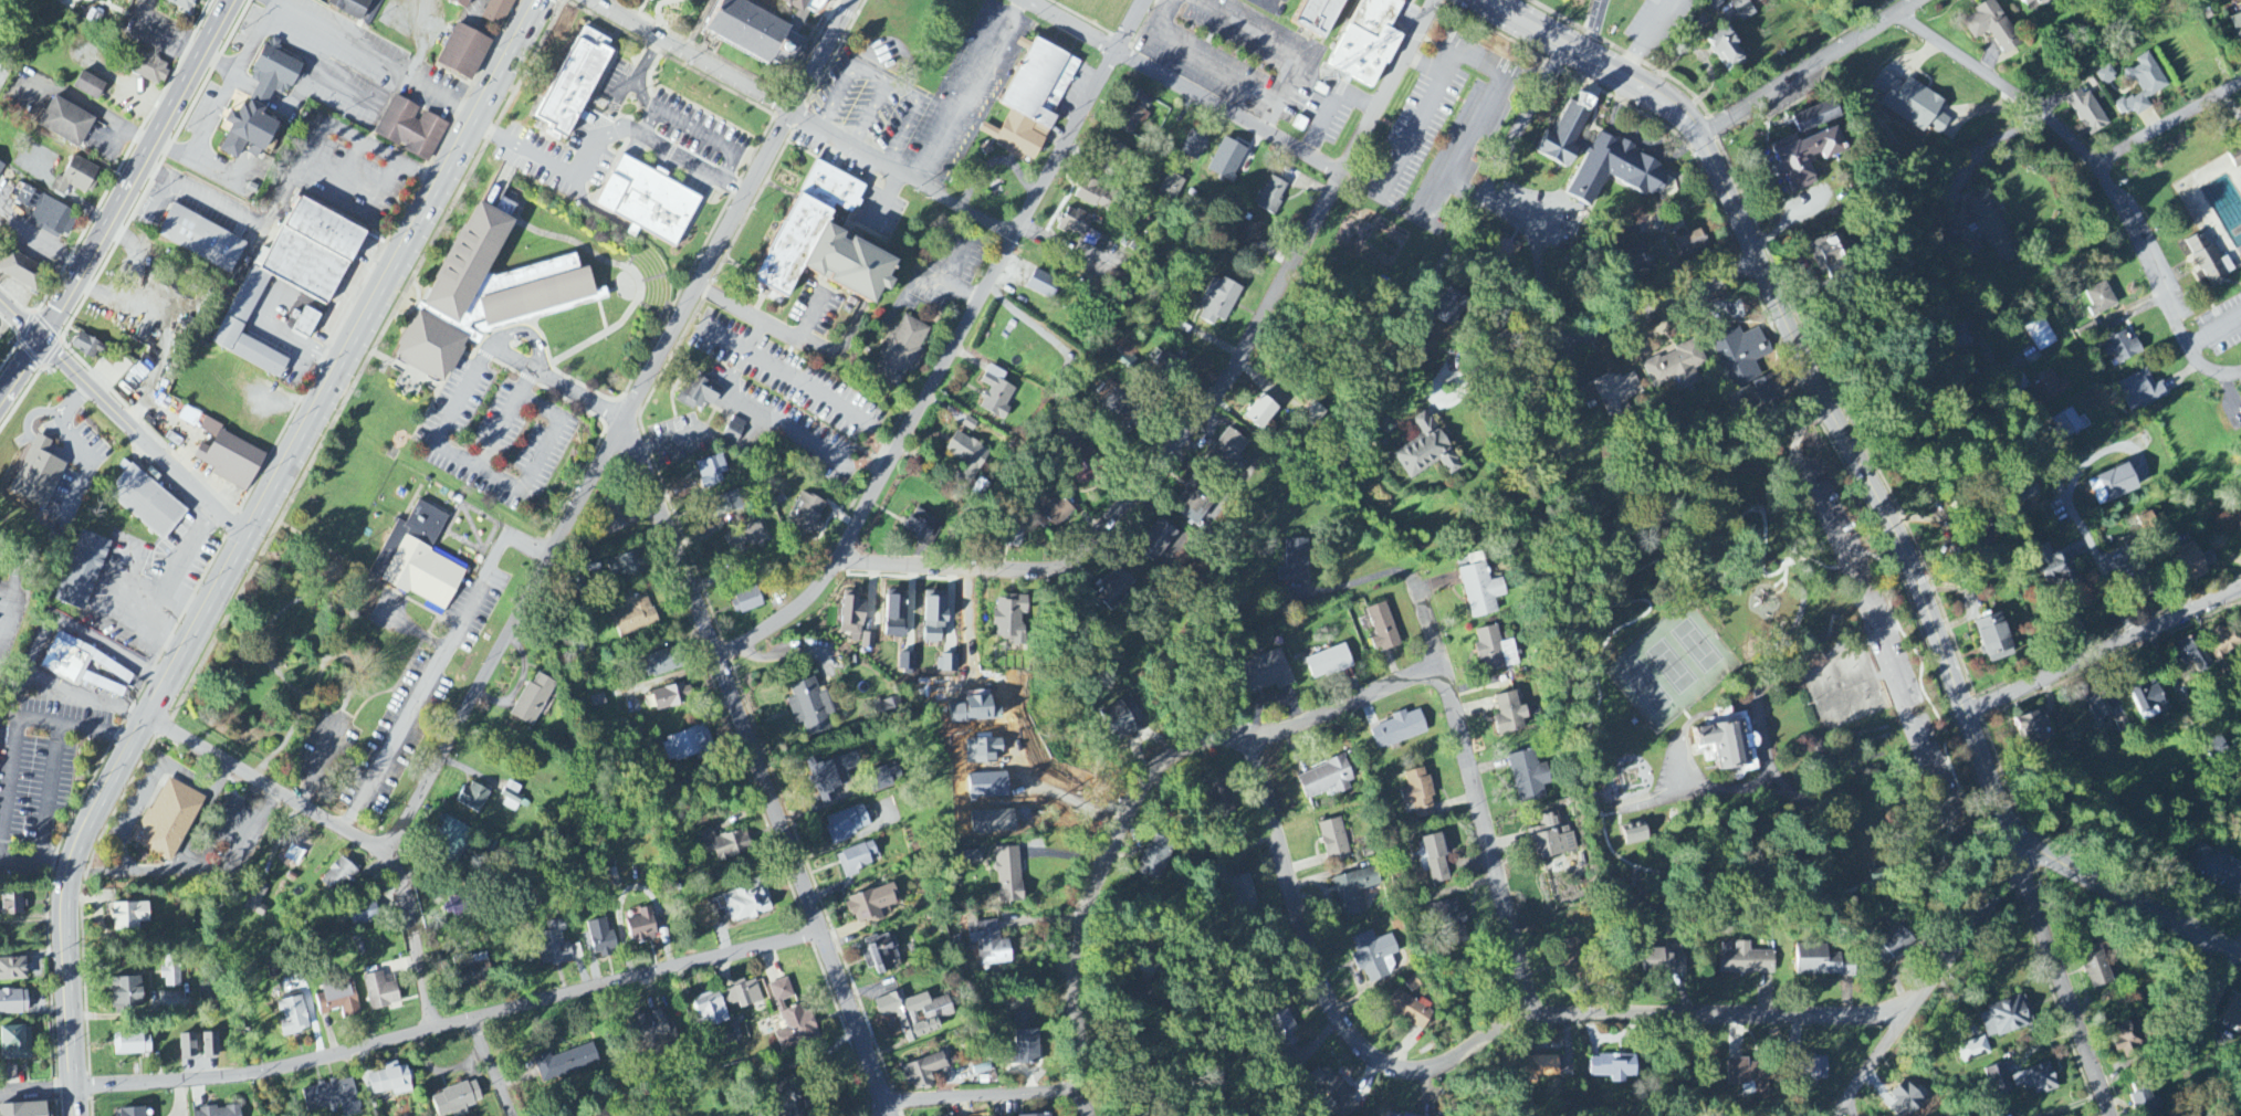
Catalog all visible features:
building: (1758, 1)
building: (656, 2)
road: (273, 3)
building: (460, 3)
building: (2027, 3)
building: (180, 4)
building: (799, 4)
building: (1715, 4)
building: (350, 7)
building: (1742, 10)
road: (286, 11)
building: (498, 12)
building: (1319, 18)
building: (2237, 24)
road: (1134, 25)
road: (1598, 27)
building: (1991, 27)
building: (755, 32)
road: (1645, 36)
building: (1368, 42)
road: (1274, 43)
building: (1726, 50)
building: (463, 52)
road: (690, 56)
road: (1195, 62)
road: (1803, 65)
road: (220, 66)
building: (144, 67)
building: (272, 73)
road: (639, 74)
building: (2105, 76)
building: (577, 81)
road: (625, 81)
road: (2000, 83)
building: (88, 86)
road: (1184, 86)
building: (2143, 86)
road: (976, 94)
building: (1041, 102)
road: (1334, 103)
building: (1912, 104)
road: (91, 108)
building: (1135, 112)
road: (1486, 112)
building: (2088, 113)
building: (1815, 118)
road: (1270, 119)
road: (649, 122)
road: (1525, 122)
road: (2170, 122)
building: (65, 123)
building: (411, 129)
building: (245, 131)
road: (604, 134)
road: (708, 137)
road: (1413, 137)
building: (1194, 146)
building: (1596, 158)
building: (2235, 158)
building: (1803, 159)
building: (1227, 160)
building: (1, 168)
road: (903, 175)
building: (76, 177)
road: (294, 179)
flagpole: (1001, 181)
road: (132, 188)
building: (1171, 188)
building: (1093, 196)
building: (1270, 197)
building: (655, 200)
road: (741, 207)
building: (48, 214)
park: (2196, 221)
building: (1075, 222)
building: (1981, 227)
building: (1249, 233)
building: (827, 236)
building: (189, 242)
road: (41, 243)
building: (1692, 245)
building: (303, 251)
building: (1832, 255)
building: (1643, 257)
building: (2210, 262)
building: (21, 271)
road: (2159, 282)
building: (486, 285)
building: (1043, 285)
building: (1222, 298)
building: (2101, 301)
building: (232, 308)
building: (1449, 309)
road: (1779, 309)
road: (1653, 313)
building: (302, 323)
building: (1184, 326)
road: (786, 331)
building: (2039, 335)
road: (756, 336)
building: (1594, 336)
traffic signals: (44, 339)
road: (726, 340)
building: (1961, 340)
building: (88, 348)
building: (2122, 349)
building: (77, 350)
building: (901, 351)
building: (1741, 356)
building: (1167, 362)
road: (740, 365)
building: (1676, 368)
road: (940, 373)
road: (1466, 378)
road: (11, 387)
road: (808, 387)
building: (2049, 388)
building: (1769, 389)
road: (1213, 392)
building: (2141, 392)
building: (996, 393)
building: (1614, 393)
building: (698, 394)
road: (582, 397)
building: (1110, 398)
road: (739, 402)
building: (1260, 413)
building: (1312, 417)
road: (124, 418)
building: (190, 418)
building: (2067, 425)
building: (734, 431)
road: (439, 438)
road: (673, 440)
road: (805, 442)
road: (876, 444)
road: (742, 448)
building: (1425, 451)
building: (1229, 452)
road: (540, 456)
building: (967, 457)
building: (219, 462)
road: (867, 462)
building: (711, 472)
building: (1085, 472)
building: (24, 475)
road: (2056, 482)
building: (2113, 486)
building: (1193, 502)
building: (730, 503)
building: (136, 504)
building: (1055, 510)
building: (807, 516)
building: (624, 520)
road: (253, 528)
building: (922, 528)
building: (744, 538)
building: (1158, 538)
building: (418, 561)
building: (1295, 561)
building: (2190, 562)
building: (626, 568)
building: (2057, 569)
building: (73, 572)
road: (169, 585)
building: (1480, 588)
building: (1113, 591)
road: (188, 600)
building: (745, 602)
building: (896, 614)
building: (633, 617)
building: (852, 617)
building: (934, 618)
building: (1009, 620)
building: (1382, 628)
road: (506, 635)
building: (1994, 639)
building: (868, 642)
building: (2222, 648)
road: (2103, 650)
building: (1495, 651)
building: (2191, 655)
building: (1329, 663)
building: (660, 664)
building: (907, 664)
building: (946, 665)
building: (84, 667)
road: (438, 668)
building: (1273, 672)
park: (1753, 684)
building: (671, 697)
building: (534, 701)
road: (1342, 705)
building: (810, 708)
building: (890, 708)
building: (2095, 712)
road: (10, 713)
building: (1509, 714)
building: (1121, 719)
building: (2032, 725)
building: (2122, 725)
building: (1400, 729)
road: (1458, 738)
building: (687, 745)
building: (1729, 745)
building: (2214, 747)
road: (13, 761)
road: (758, 764)
building: (832, 776)
road: (188, 777)
building: (884, 777)
building: (1529, 777)
road: (1991, 778)
building: (1327, 780)
road: (268, 788)
road: (50, 791)
building: (1418, 793)
building: (511, 797)
building: (472, 799)
building: (1223, 800)
road: (140, 803)
road: (266, 804)
building: (167, 821)
building: (847, 824)
building: (1635, 833)
building: (452, 835)
building: (1551, 839)
building: (1334, 841)
building: (725, 845)
road: (121, 857)
building: (1155, 859)
road: (195, 860)
building: (856, 860)
building: (1436, 860)
building: (2214, 866)
road: (160, 872)
road: (195, 874)
building: (1008, 875)
building: (338, 877)
building: (1882, 878)
road: (1102, 891)
building: (1354, 891)
building: (1240, 892)
road: (2130, 899)
building: (256, 901)
building: (746, 903)
building: (11, 904)
building: (871, 905)
building: (1449, 914)
building: (363, 915)
building: (129, 917)
building: (642, 927)
road: (1971, 929)
building: (601, 938)
road: (420, 939)
building: (989, 945)
building: (1893, 946)
building: (556, 947)
building: (1571, 952)
building: (880, 955)
building: (1374, 956)
building: (1664, 961)
building: (1746, 961)
building: (1823, 962)
building: (2095, 967)
building: (13, 970)
building: (474, 972)
building: (170, 977)
road: (2063, 978)
building: (207, 992)
building: (380, 992)
building: (126, 993)
building: (743, 994)
building: (338, 999)
building: (13, 1002)
building: (711, 1011)
building: (1410, 1011)
building: (2233, 1013)
building: (914, 1014)
building: (293, 1017)
building: (2008, 1017)
building: (792, 1019)
road: (448, 1024)
building: (655, 1032)
building: (2128, 1036)
building: (1024, 1039)
building: (15, 1044)
building: (130, 1044)
building: (209, 1046)
building: (187, 1047)
road: (1465, 1050)
building: (1973, 1050)
building: (565, 1063)
road: (1875, 1063)
building: (1544, 1066)
building: (1612, 1067)
road: (490, 1068)
building: (1810, 1070)
building: (923, 1072)
building: (1748, 1076)
building: (389, 1081)
building: (1998, 1081)
building: (2035, 1081)
building: (1334, 1092)
road: (983, 1094)
building: (331, 1098)
building: (1905, 1099)
road: (71, 1101)
building: (455, 1101)
building: (2145, 1102)
building: (786, 1106)
road: (881, 1107)
building: (24, 1109)
building: (133, 1112)
building: (218, 1112)
building: (1390, 1114)
building: (1043, 1115)

